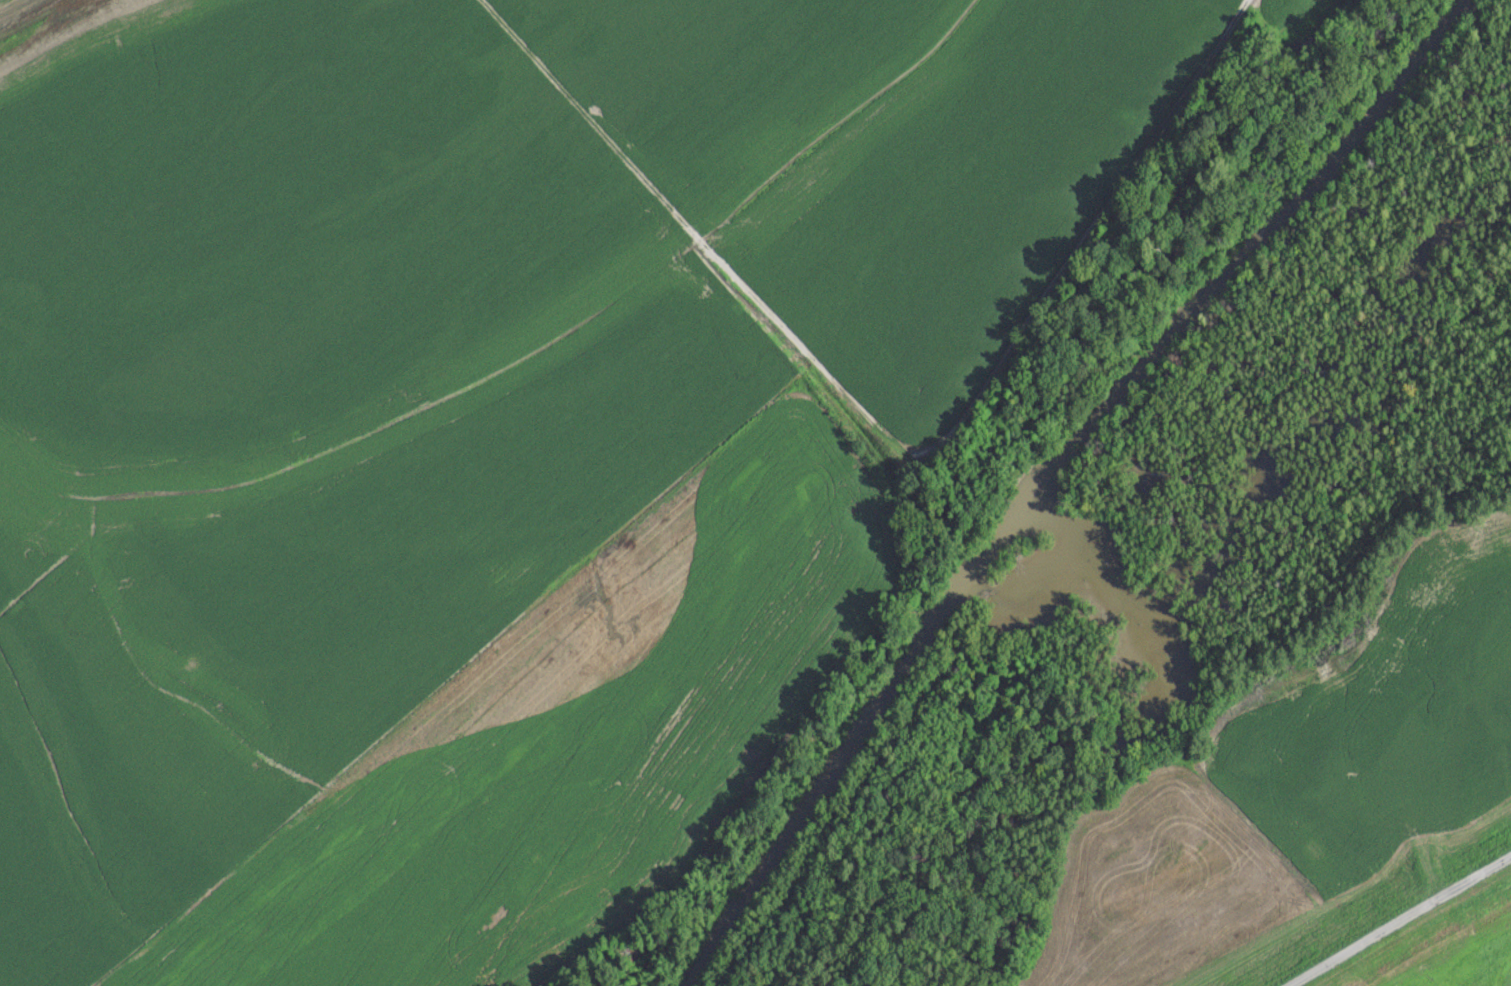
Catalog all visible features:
road: (1398, 919)

